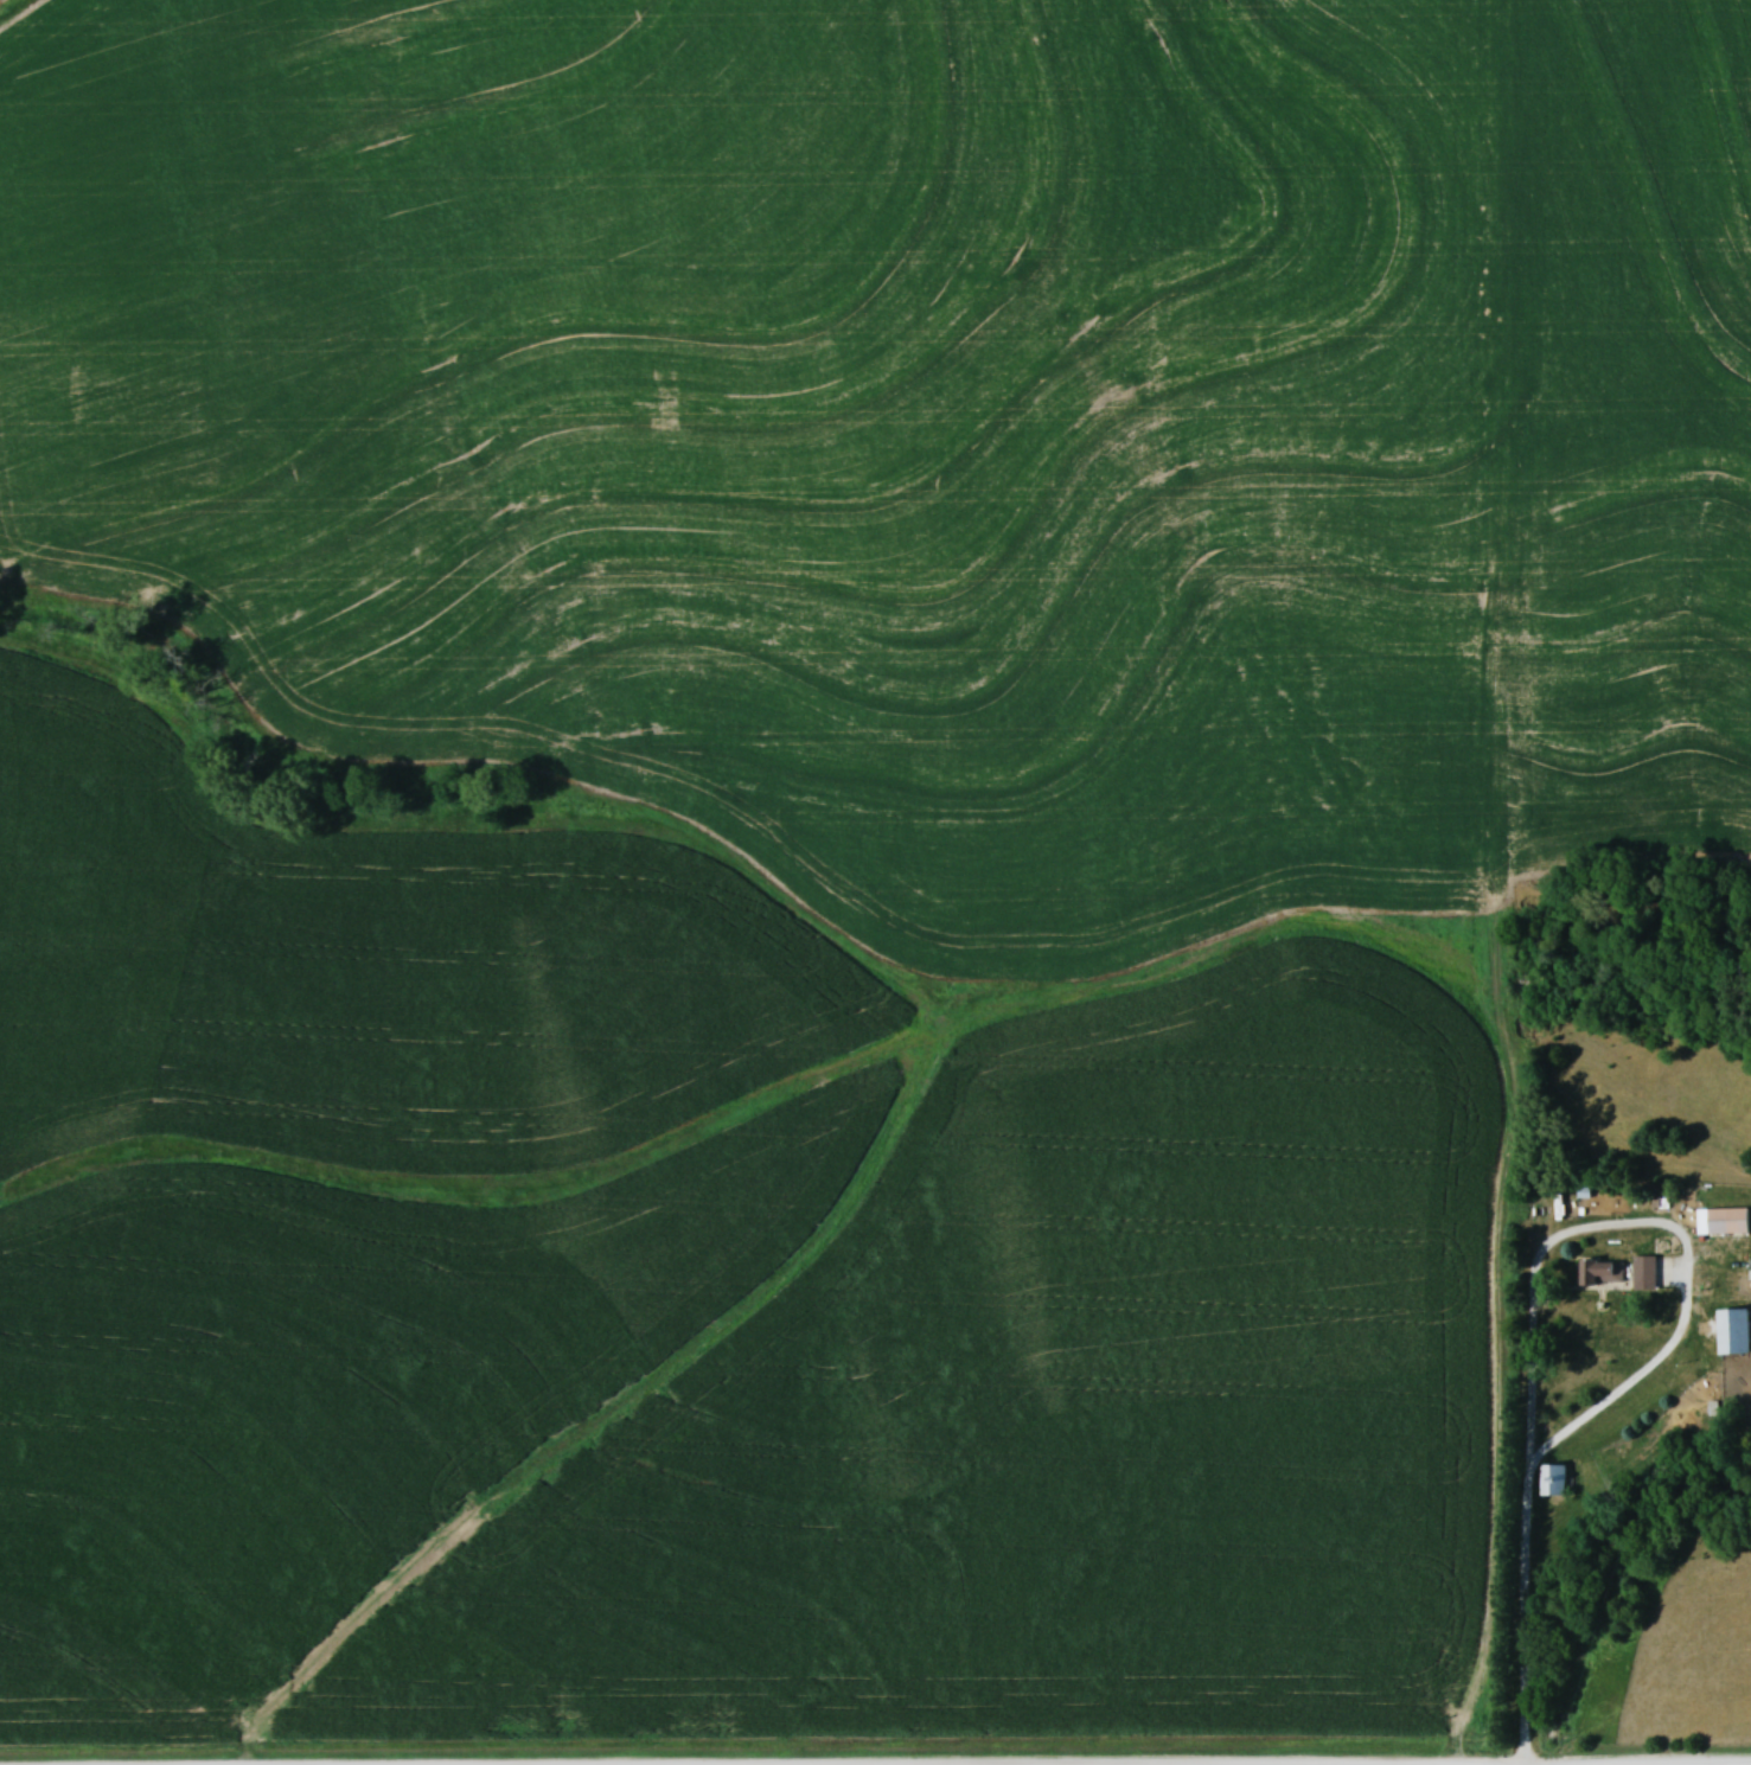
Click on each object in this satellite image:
building: (1731, 1221)
road: (1533, 1260)
building: (1605, 1271)
building: (1650, 1271)
building: (1738, 1331)
building: (1555, 1479)
road: (1526, 1484)

